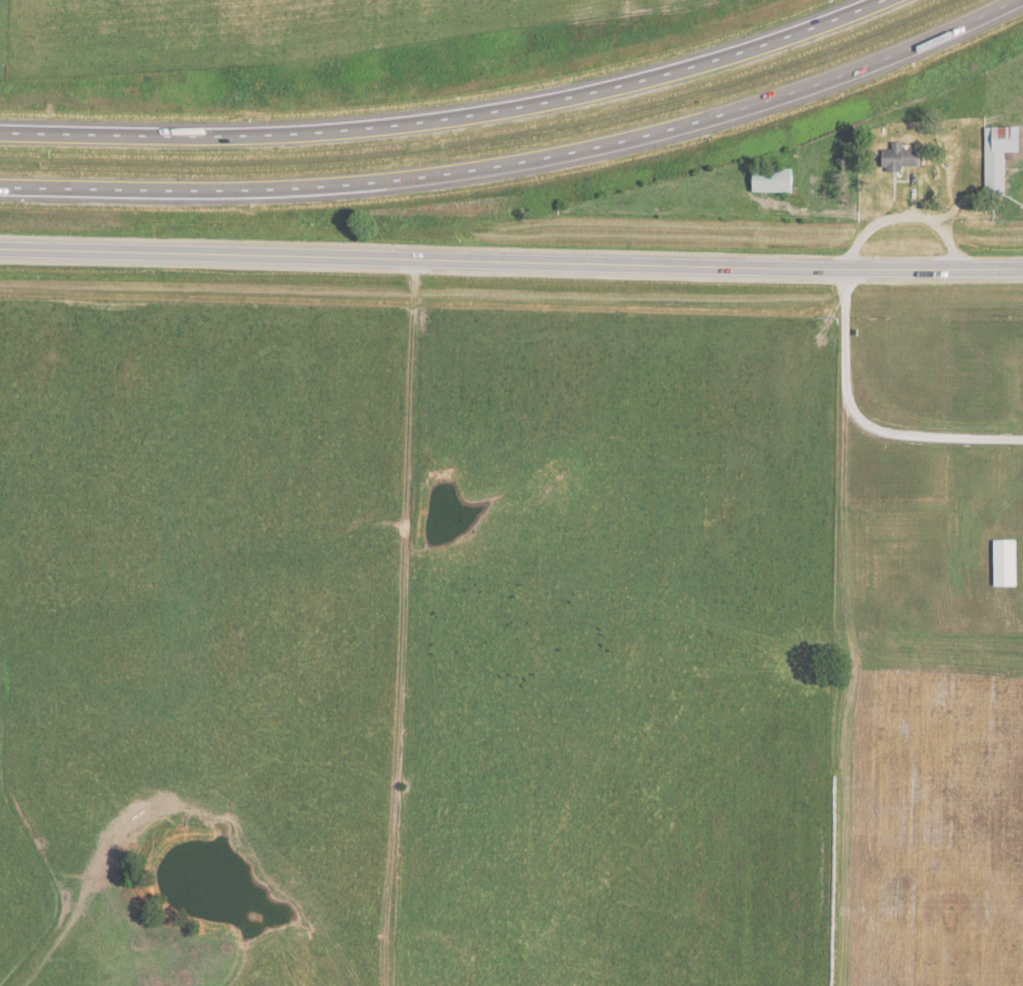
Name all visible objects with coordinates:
road: (447, 118)
building: (901, 156)
building: (1000, 156)
road: (521, 161)
building: (772, 179)
road: (511, 262)
building: (1006, 561)

